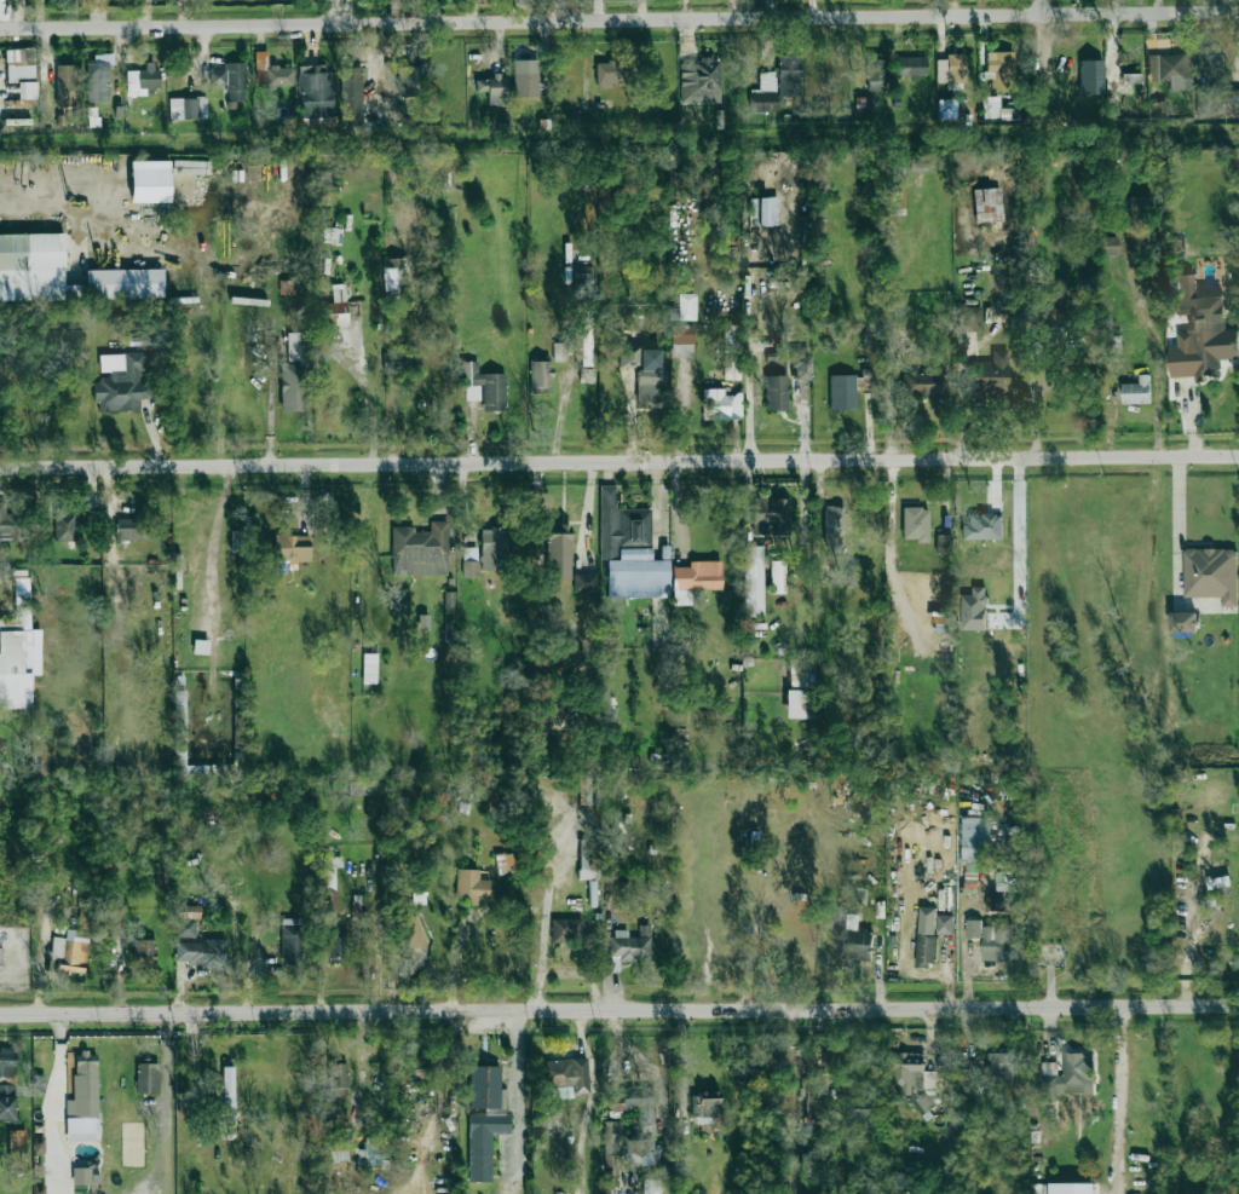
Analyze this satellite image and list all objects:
building: (5, 0)
road: (1045, 6)
road: (618, 21)
road: (1048, 52)
building: (1212, 62)
building: (1113, 64)
building: (911, 67)
building: (1001, 68)
building: (951, 69)
building: (1171, 70)
building: (22, 71)
building: (271, 73)
building: (606, 74)
building: (875, 74)
building: (788, 75)
building: (1091, 76)
building: (525, 77)
building: (1131, 77)
building: (98, 79)
building: (143, 80)
building: (230, 80)
building: (699, 81)
building: (65, 85)
building: (492, 88)
building: (315, 91)
building: (765, 93)
building: (351, 97)
building: (1217, 102)
building: (990, 106)
building: (188, 108)
building: (947, 109)
building: (1159, 109)
building: (987, 204)
building: (1141, 206)
road: (28, 207)
building: (763, 210)
building: (332, 235)
building: (1107, 246)
building: (31, 250)
building: (394, 276)
building: (583, 278)
building: (335, 306)
building: (686, 306)
building: (969, 318)
building: (1198, 330)
building: (584, 340)
building: (681, 341)
building: (731, 341)
building: (295, 346)
building: (559, 351)
building: (628, 356)
building: (393, 360)
building: (801, 368)
building: (991, 374)
building: (584, 375)
building: (541, 376)
building: (650, 377)
building: (120, 382)
building: (923, 383)
building: (292, 387)
building: (484, 387)
building: (1136, 391)
building: (776, 393)
road: (1033, 398)
road: (753, 402)
building: (720, 404)
road: (889, 408)
road: (681, 413)
road: (1189, 422)
road: (737, 423)
road: (806, 425)
road: (619, 462)
road: (753, 498)
road: (803, 500)
building: (770, 515)
road: (892, 519)
building: (832, 524)
building: (915, 524)
building: (10, 525)
building: (63, 525)
building: (132, 525)
building: (621, 525)
building: (982, 526)
building: (944, 542)
road: (211, 543)
building: (491, 549)
building: (290, 550)
building: (420, 550)
building: (558, 552)
building: (469, 561)
building: (1211, 573)
building: (636, 575)
building: (695, 579)
building: (753, 581)
building: (584, 582)
building: (449, 600)
building: (974, 610)
building: (1183, 622)
building: (200, 647)
building: (18, 658)
building: (369, 668)
building: (800, 690)
building: (183, 740)
building: (365, 788)
building: (975, 843)
building: (588, 858)
building: (329, 881)
building: (1004, 881)
building: (1218, 882)
building: (469, 886)
building: (996, 902)
building: (188, 911)
building: (944, 923)
road: (544, 927)
building: (185, 928)
building: (973, 928)
building: (566, 929)
building: (411, 931)
building: (926, 935)
building: (996, 942)
building: (290, 944)
building: (855, 944)
building: (628, 946)
building: (338, 948)
building: (70, 950)
building: (144, 951)
building: (200, 952)
building: (0, 956)
road: (581, 973)
road: (618, 1006)
road: (638, 1057)
building: (7, 1062)
building: (999, 1067)
building: (565, 1074)
building: (1067, 1075)
building: (146, 1077)
building: (336, 1077)
building: (911, 1080)
building: (227, 1088)
road: (53, 1096)
building: (82, 1098)
road: (1120, 1098)
building: (7, 1101)
road: (519, 1101)
building: (705, 1104)
building: (640, 1106)
building: (613, 1107)
building: (859, 1108)
building: (819, 1109)
building: (484, 1119)
building: (16, 1140)
building: (334, 1147)
building: (638, 1152)
building: (610, 1154)
building: (808, 1164)
building: (86, 1176)
building: (650, 1187)
building: (1062, 1188)
building: (324, 1192)

